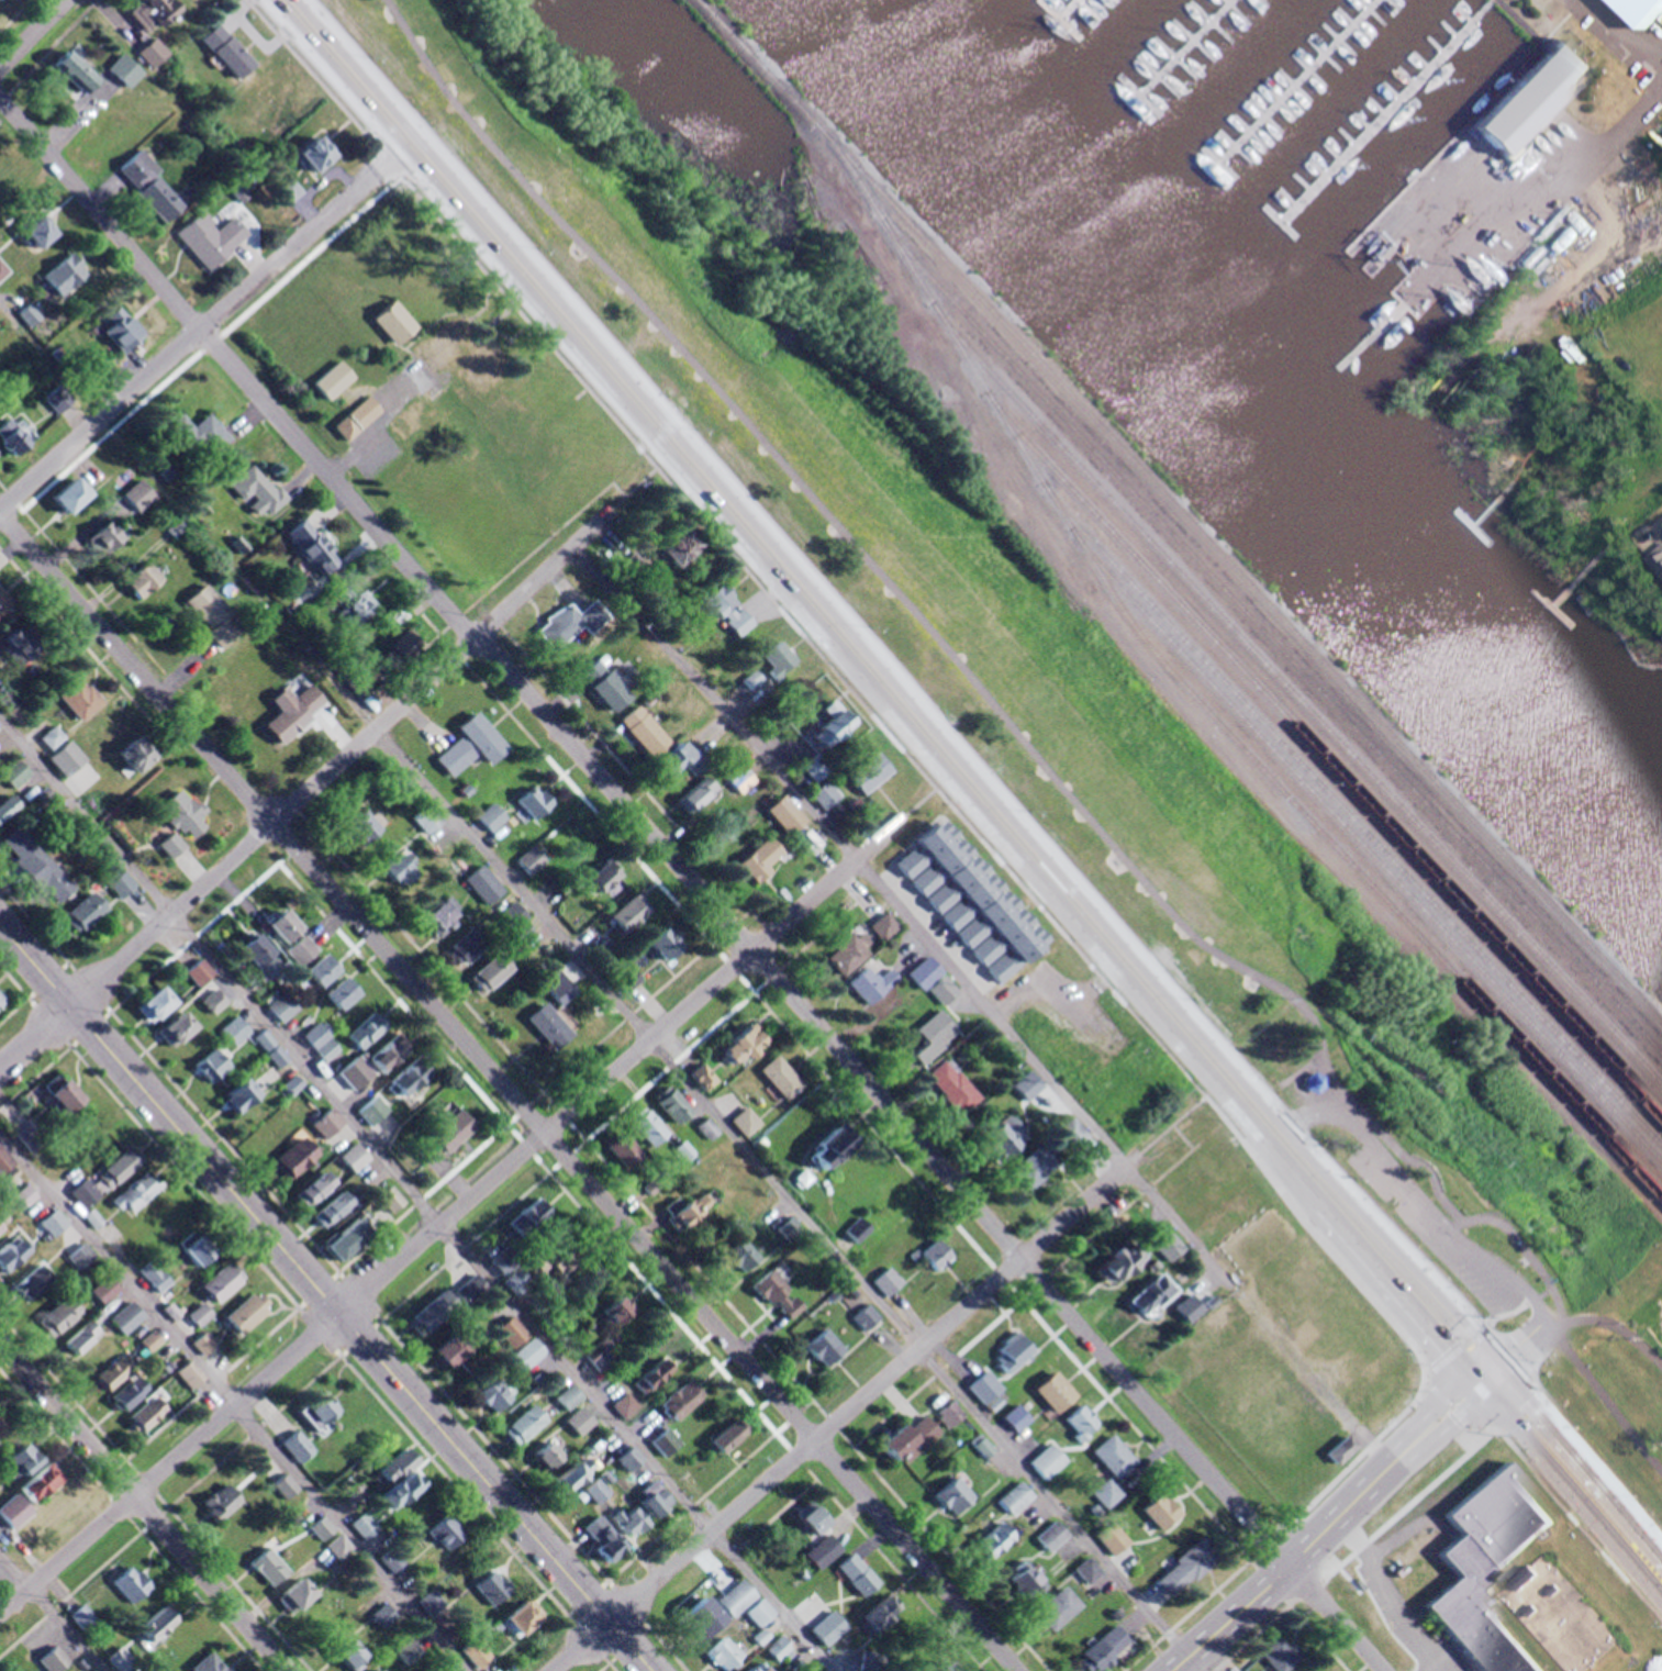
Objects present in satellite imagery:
road: (1487, 2)
pier: (1062, 9)
building: (1635, 10)
road: (238, 14)
road: (120, 23)
road: (32, 32)
road: (1627, 34)
parking lot: (1625, 36)
road: (1540, 40)
road: (263, 44)
pier: (1180, 49)
road: (49, 51)
pier: (1295, 81)
building: (1521, 94)
pier: (1382, 114)
road: (1620, 134)
parking lot: (1487, 202)
road: (1493, 218)
park: (1537, 218)
road: (0, 302)
road: (199, 332)
road: (380, 423)
park: (635, 483)
road: (633, 489)
railway: (1183, 501)
road: (1651, 527)
building: (1653, 561)
road: (763, 566)
road: (493, 587)
railway: (1225, 587)
road: (766, 601)
railway: (1265, 609)
railway: (1267, 651)
road: (969, 670)
road: (900, 681)
park: (1049, 702)
railway: (1290, 705)
road: (871, 713)
railway: (1320, 772)
road: (305, 792)
road: (919, 802)
railway: (1342, 814)
railway: (1365, 853)
road: (692, 882)
road: (983, 1003)
road: (1300, 1070)
road: (510, 1092)
road: (1173, 1123)
park: (1178, 1132)
road: (1182, 1136)
road: (1384, 1138)
road: (760, 1168)
road: (415, 1195)
road: (1421, 1202)
road: (451, 1214)
parking lot: (1436, 1228)
road: (672, 1237)
road: (345, 1275)
road: (1026, 1293)
road: (324, 1300)
road: (309, 1316)
road: (1607, 1319)
road: (1520, 1345)
road: (1458, 1361)
traffic signals: (1501, 1361)
traffic signals: (1466, 1372)
traffic signals: (1484, 1393)
road: (1606, 1394)
road: (1431, 1400)
road: (233, 1408)
road: (846, 1410)
road: (1451, 1421)
road: (1581, 1456)
road: (1448, 1464)
road: (1335, 1475)
road: (154, 1492)
road: (143, 1506)
road: (1279, 1569)
road: (51, 1613)

